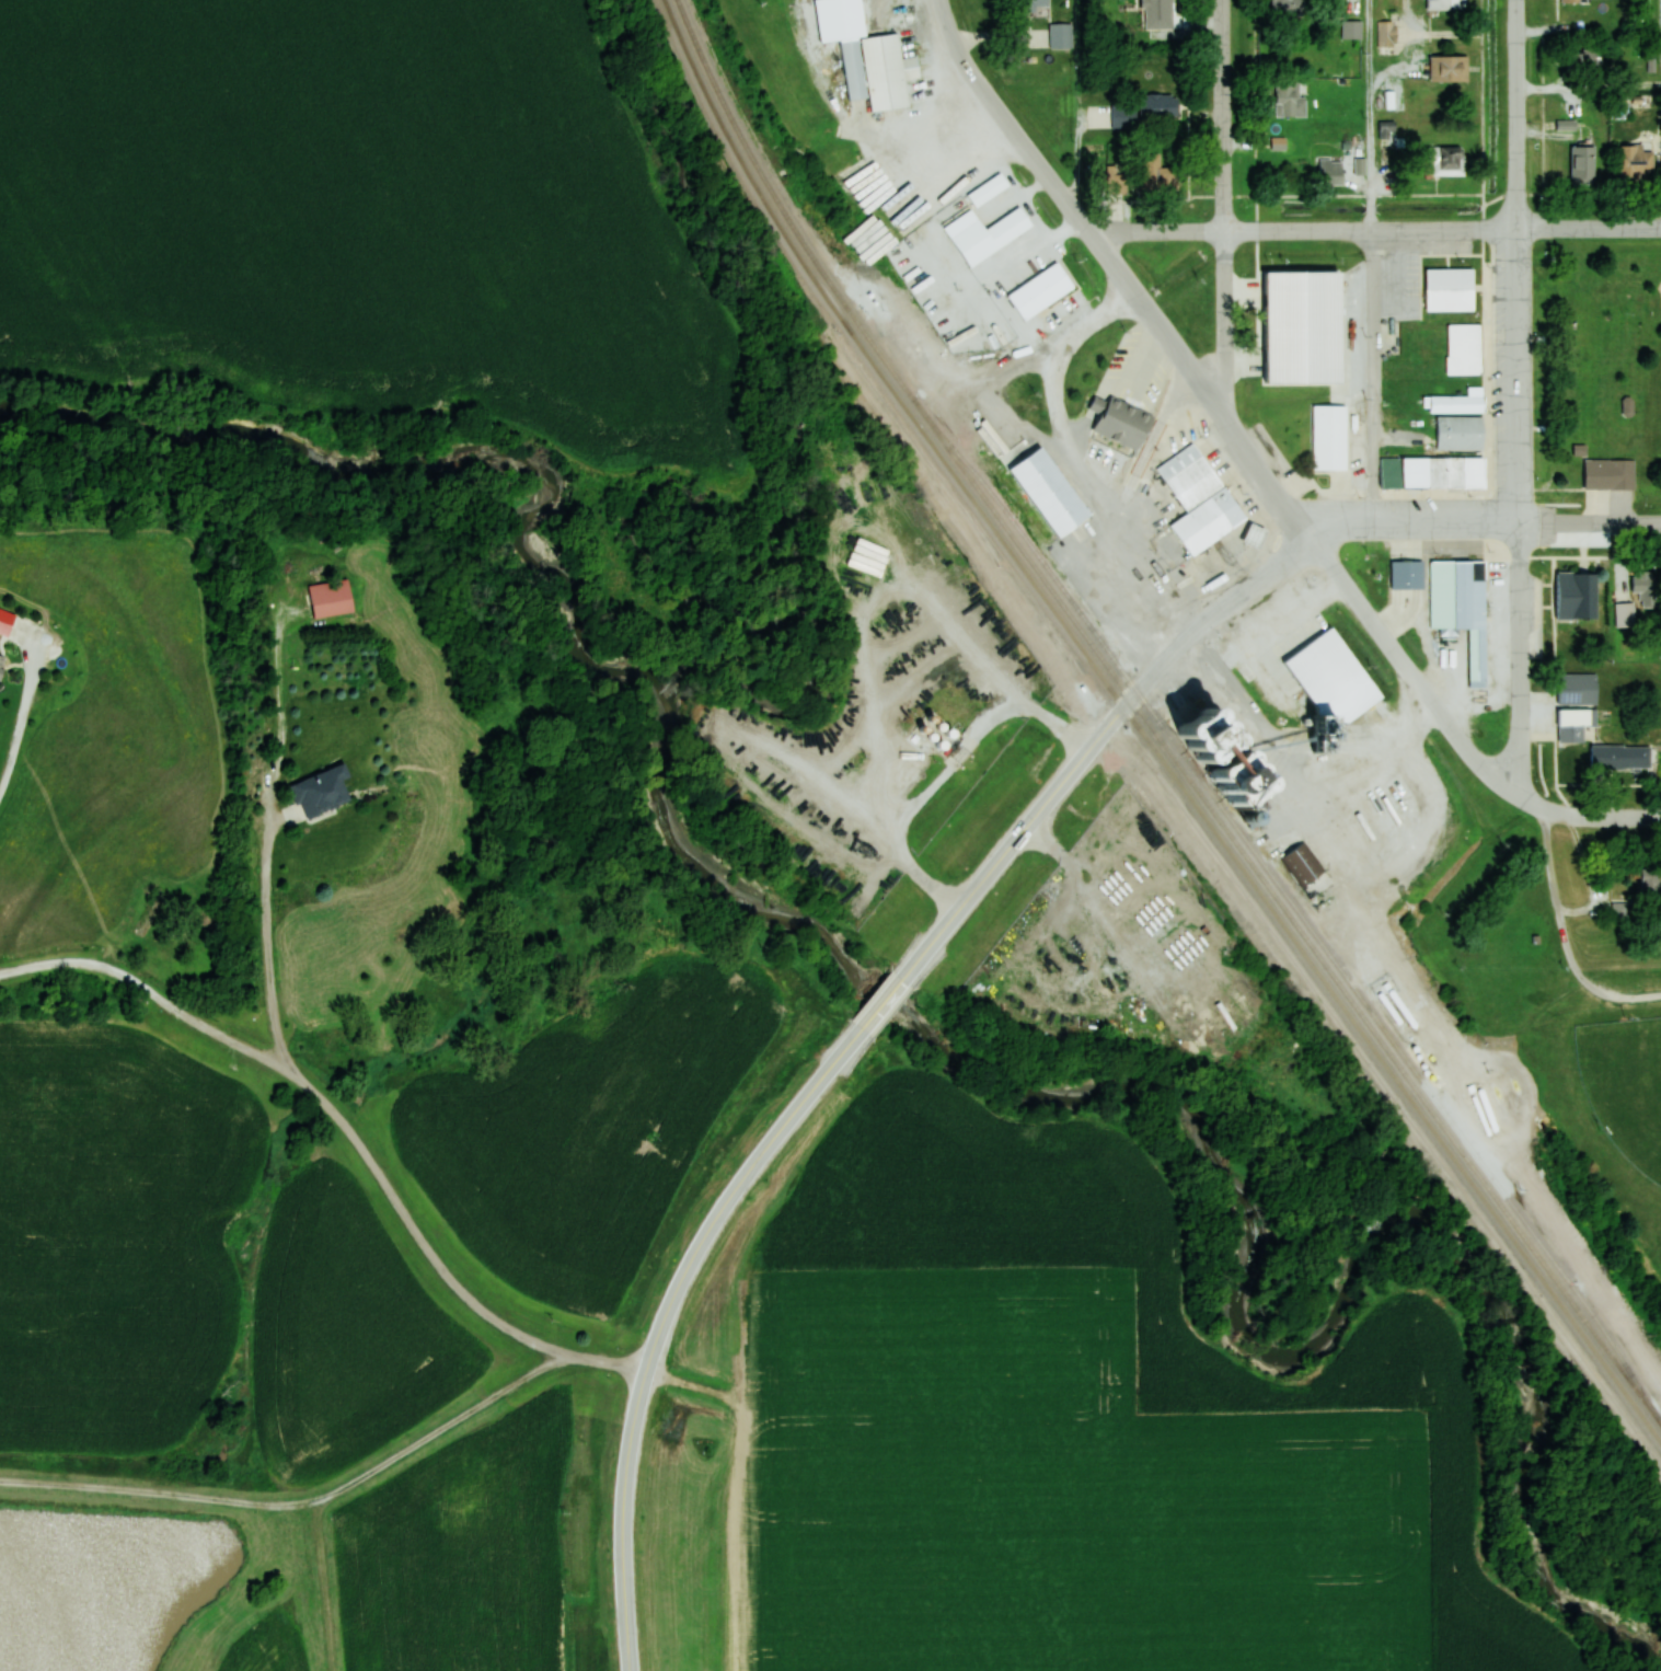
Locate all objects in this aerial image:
building: (1572, 1)
building: (1156, 4)
building: (1445, 4)
building: (1036, 5)
building: (1287, 7)
building: (1351, 30)
building: (1386, 34)
building: (1449, 69)
building: (877, 71)
building: (1290, 100)
building: (1157, 108)
building: (1111, 116)
building: (1446, 162)
building: (1636, 163)
building: (1582, 165)
building: (1158, 173)
building: (1330, 173)
building: (1117, 184)
building: (988, 191)
road: (1221, 207)
road: (1375, 230)
building: (984, 234)
road: (1513, 261)
building: (1455, 291)
building: (1047, 292)
building: (1297, 324)
building: (1464, 350)
park: (1597, 359)
building: (1303, 364)
building: (1458, 403)
building: (1627, 406)
road: (1225, 414)
building: (1120, 420)
building: (1461, 434)
building: (1329, 438)
building: (1580, 450)
building: (1461, 473)
building: (1480, 473)
building: (1610, 475)
building: (1049, 493)
building: (1199, 500)
road: (1412, 520)
road: (1589, 521)
building: (1255, 537)
building: (1407, 576)
building: (1645, 588)
building: (1577, 597)
building: (330, 599)
building: (1461, 607)
building: (1625, 615)
building: (1294, 627)
road: (1181, 641)
road: (1520, 660)
building: (1, 661)
building: (1578, 689)
railway: (1149, 724)
building: (1576, 724)
railway: (1143, 734)
building: (1618, 756)
building: (320, 791)
road: (1599, 816)
road: (1330, 840)
building: (1302, 863)
road: (988, 873)
building: (1651, 878)
road: (1557, 910)
railway: (1300, 913)
road: (891, 991)
road: (1634, 994)
road: (870, 1015)
park: (1625, 1085)
road: (662, 1321)

